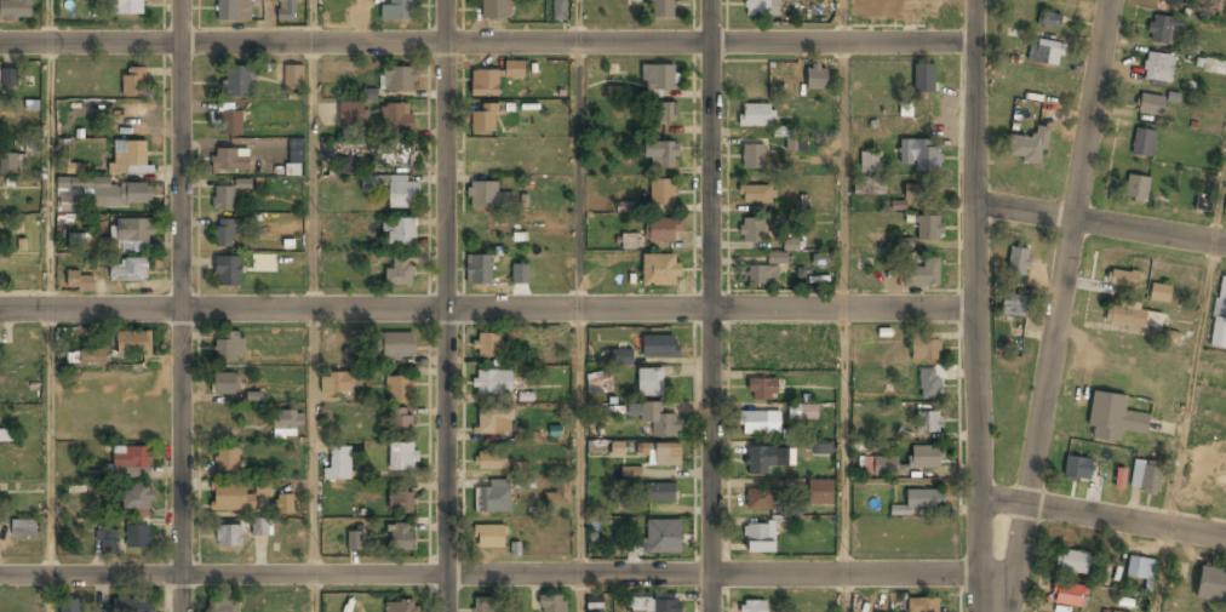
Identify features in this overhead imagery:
building: (1174, 1)
building: (1216, 6)
building: (128, 7)
building: (663, 7)
building: (762, 7)
building: (497, 8)
building: (877, 8)
building: (15, 10)
building: (234, 10)
building: (287, 10)
building: (397, 10)
building: (560, 10)
building: (1049, 19)
road: (47, 22)
road: (310, 22)
road: (579, 22)
road: (844, 22)
building: (1163, 28)
road: (486, 44)
building: (1045, 51)
building: (1157, 67)
building: (1214, 67)
building: (515, 70)
building: (818, 76)
building: (10, 78)
building: (293, 78)
building: (397, 78)
building: (659, 78)
building: (924, 78)
building: (237, 81)
building: (134, 82)
building: (486, 84)
building: (1150, 104)
building: (351, 114)
building: (665, 114)
building: (757, 115)
building: (397, 118)
building: (485, 120)
building: (231, 124)
building: (1144, 142)
building: (797, 143)
building: (1029, 145)
building: (395, 154)
building: (919, 154)
building: (661, 155)
building: (130, 158)
building: (754, 158)
building: (228, 161)
building: (871, 162)
building: (12, 166)
building: (348, 166)
building: (242, 183)
building: (1136, 188)
building: (113, 191)
building: (922, 193)
building: (403, 194)
building: (485, 194)
building: (663, 194)
building: (757, 195)
building: (224, 200)
road: (181, 210)
road: (1099, 223)
building: (929, 229)
building: (663, 230)
building: (752, 231)
building: (133, 233)
building: (224, 235)
building: (400, 235)
building: (629, 240)
building: (791, 245)
road: (973, 247)
road: (1065, 251)
building: (1018, 261)
building: (824, 262)
building: (479, 268)
building: (661, 270)
building: (128, 271)
building: (400, 271)
building: (766, 271)
building: (228, 273)
building: (521, 273)
building: (923, 275)
building: (1123, 278)
building: (80, 282)
road: (711, 286)
road: (446, 287)
building: (1159, 293)
building: (1220, 298)
building: (1013, 305)
road: (486, 308)
building: (1132, 315)
road: (51, 327)
road: (314, 327)
road: (582, 327)
road: (846, 327)
building: (1218, 332)
building: (133, 343)
building: (395, 345)
building: (487, 345)
building: (661, 347)
building: (227, 349)
building: (926, 350)
building: (351, 355)
building: (88, 356)
building: (623, 359)
building: (597, 382)
building: (494, 383)
building: (337, 384)
building: (651, 384)
building: (225, 385)
building: (929, 385)
building: (400, 390)
building: (762, 390)
road: (1192, 407)
building: (802, 411)
building: (1113, 417)
building: (659, 421)
building: (287, 422)
building: (401, 422)
building: (495, 423)
building: (929, 423)
building: (757, 425)
building: (618, 447)
building: (821, 448)
building: (664, 456)
building: (131, 458)
building: (403, 458)
building: (926, 458)
building: (227, 461)
building: (766, 461)
building: (492, 462)
building: (339, 464)
building: (886, 467)
building: (1077, 468)
building: (1145, 475)
building: (1119, 477)
building: (260, 481)
building: (560, 492)
building: (660, 493)
building: (821, 493)
building: (137, 497)
building: (230, 498)
building: (494, 498)
building: (761, 501)
building: (924, 501)
building: (401, 503)
building: (285, 507)
road: (1100, 515)
road: (182, 516)
building: (262, 526)
building: (23, 528)
building: (229, 537)
building: (489, 537)
building: (137, 538)
building: (401, 538)
building: (664, 538)
building: (107, 539)
building: (760, 539)
building: (355, 542)
road: (975, 553)
road: (1013, 557)
building: (1072, 561)
building: (1140, 567)
road: (488, 574)
building: (1104, 574)
building: (1210, 584)
road: (710, 593)
road: (446, 594)
building: (1069, 594)
building: (554, 604)
building: (486, 605)
building: (595, 605)
building: (655, 605)
building: (70, 606)
building: (132, 606)
building: (222, 606)
building: (923, 606)
building: (400, 607)
building: (754, 607)
building: (99, 611)
building: (1113, 611)

